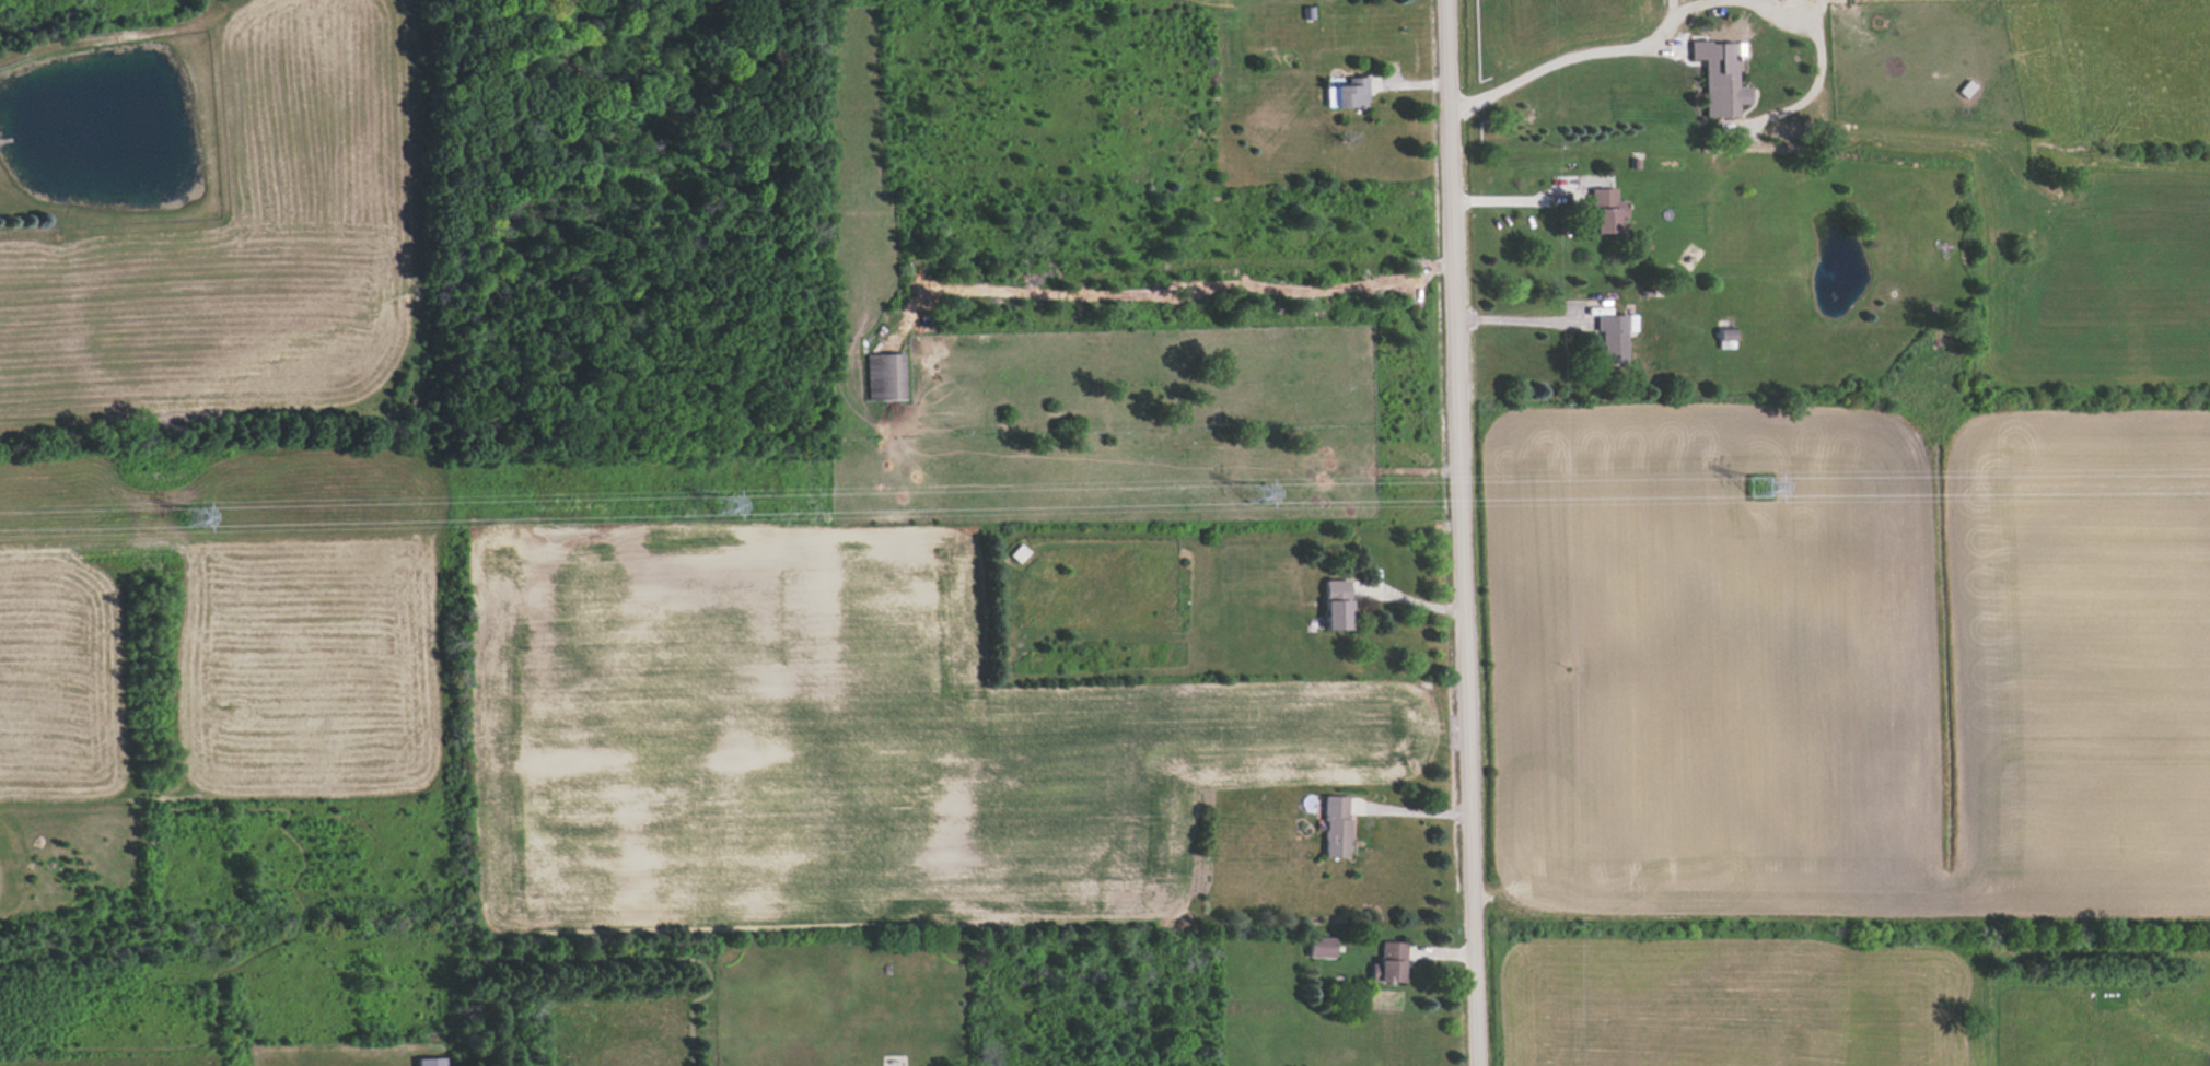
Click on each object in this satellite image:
road: (1613, 50)
building: (1720, 77)
building: (1347, 94)
road: (1522, 202)
building: (1606, 210)
road: (1515, 317)
building: (1615, 337)
building: (1725, 339)
building: (884, 376)
road: (1462, 532)
road: (1406, 599)
building: (1337, 606)
road: (1409, 812)
building: (1335, 827)
building: (1319, 947)
building: (1387, 963)
building: (429, 1062)

